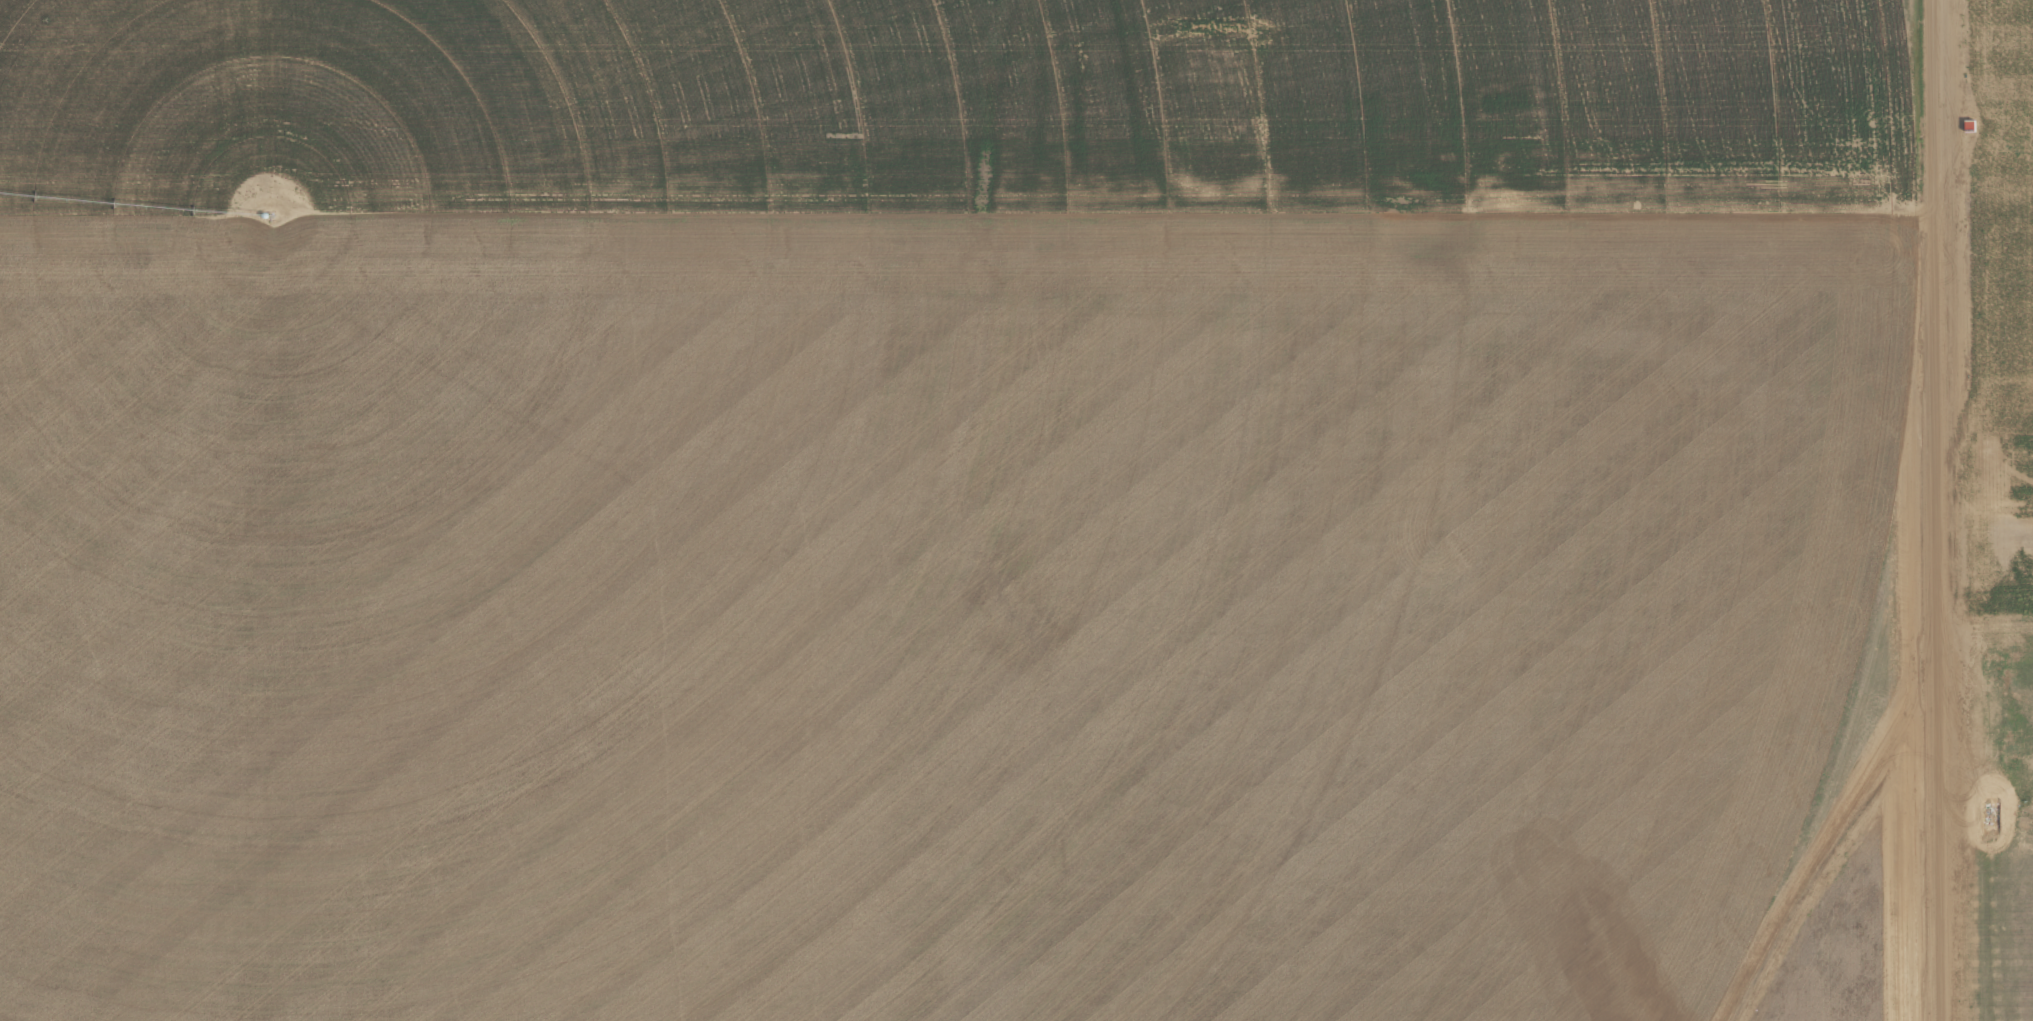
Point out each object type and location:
road: (1862, 203)
road: (1642, 611)

